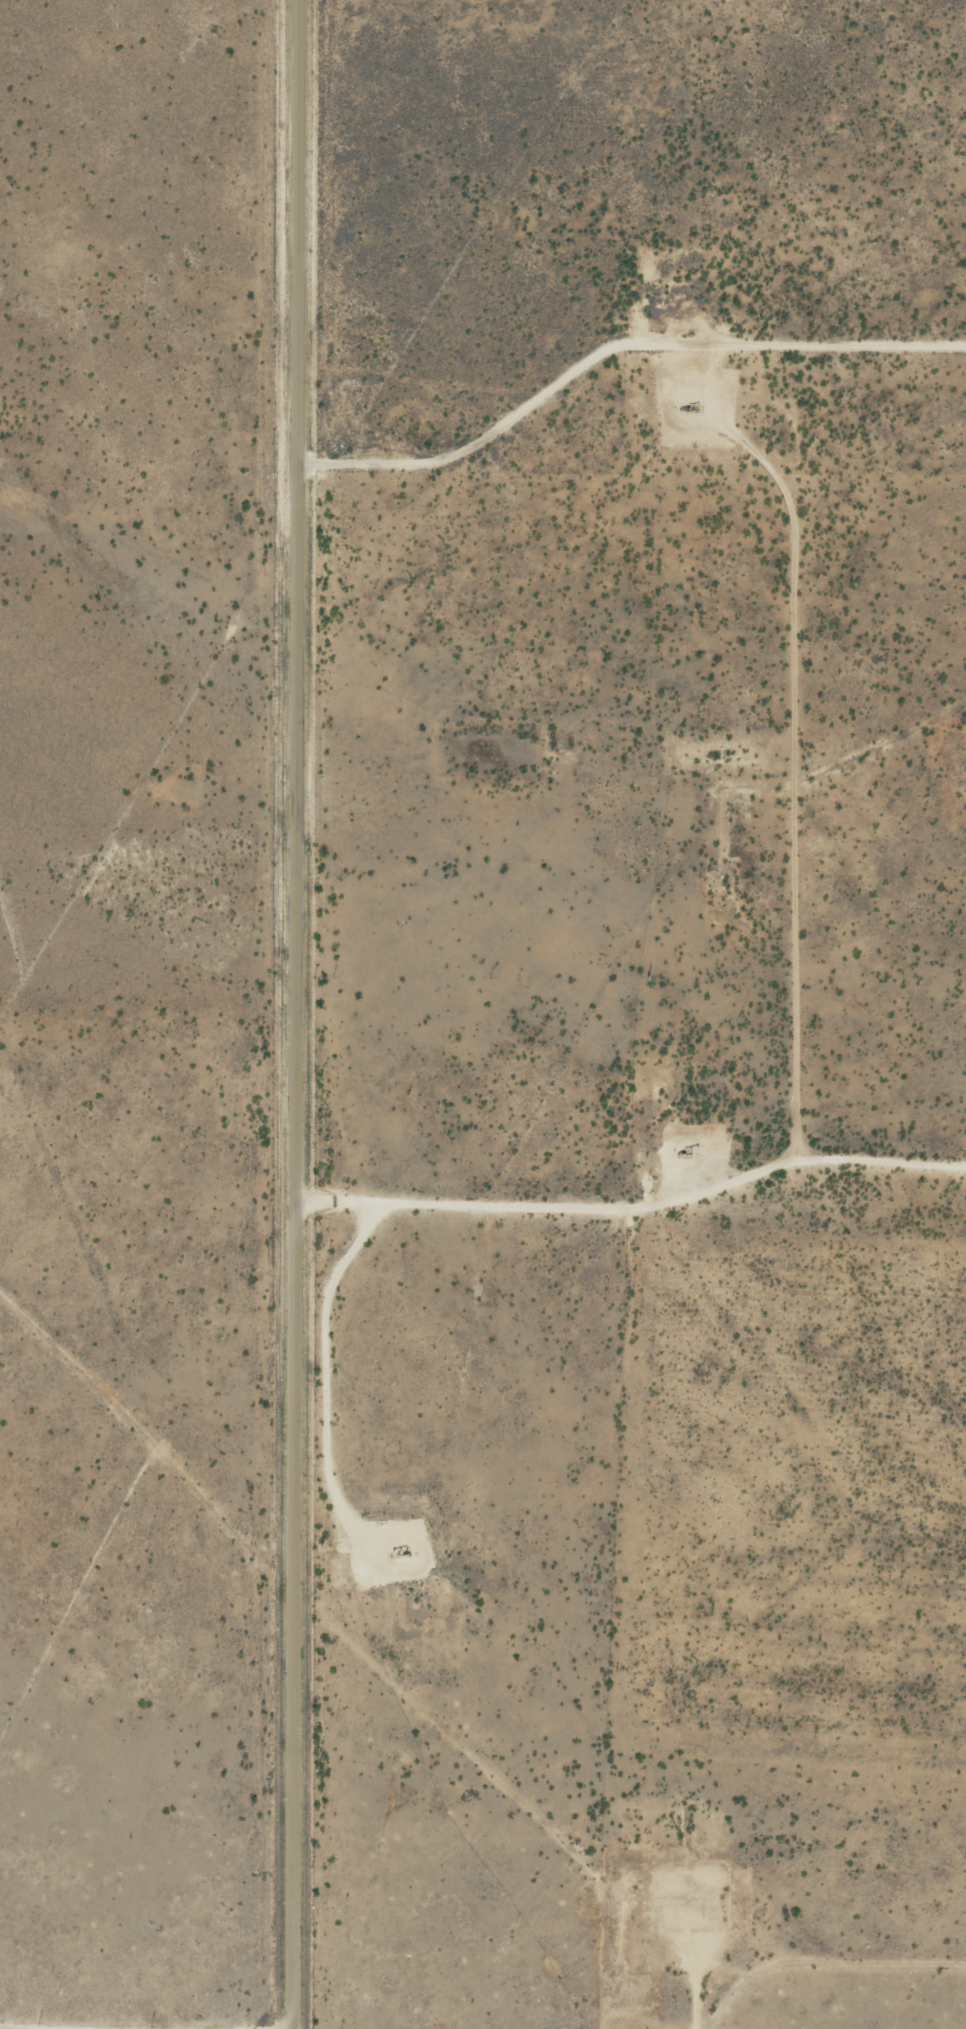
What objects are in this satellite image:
airport: (617, 206)
road: (800, 759)
road: (291, 1014)
road: (631, 1182)
road: (693, 2001)
road: (79, 2027)

